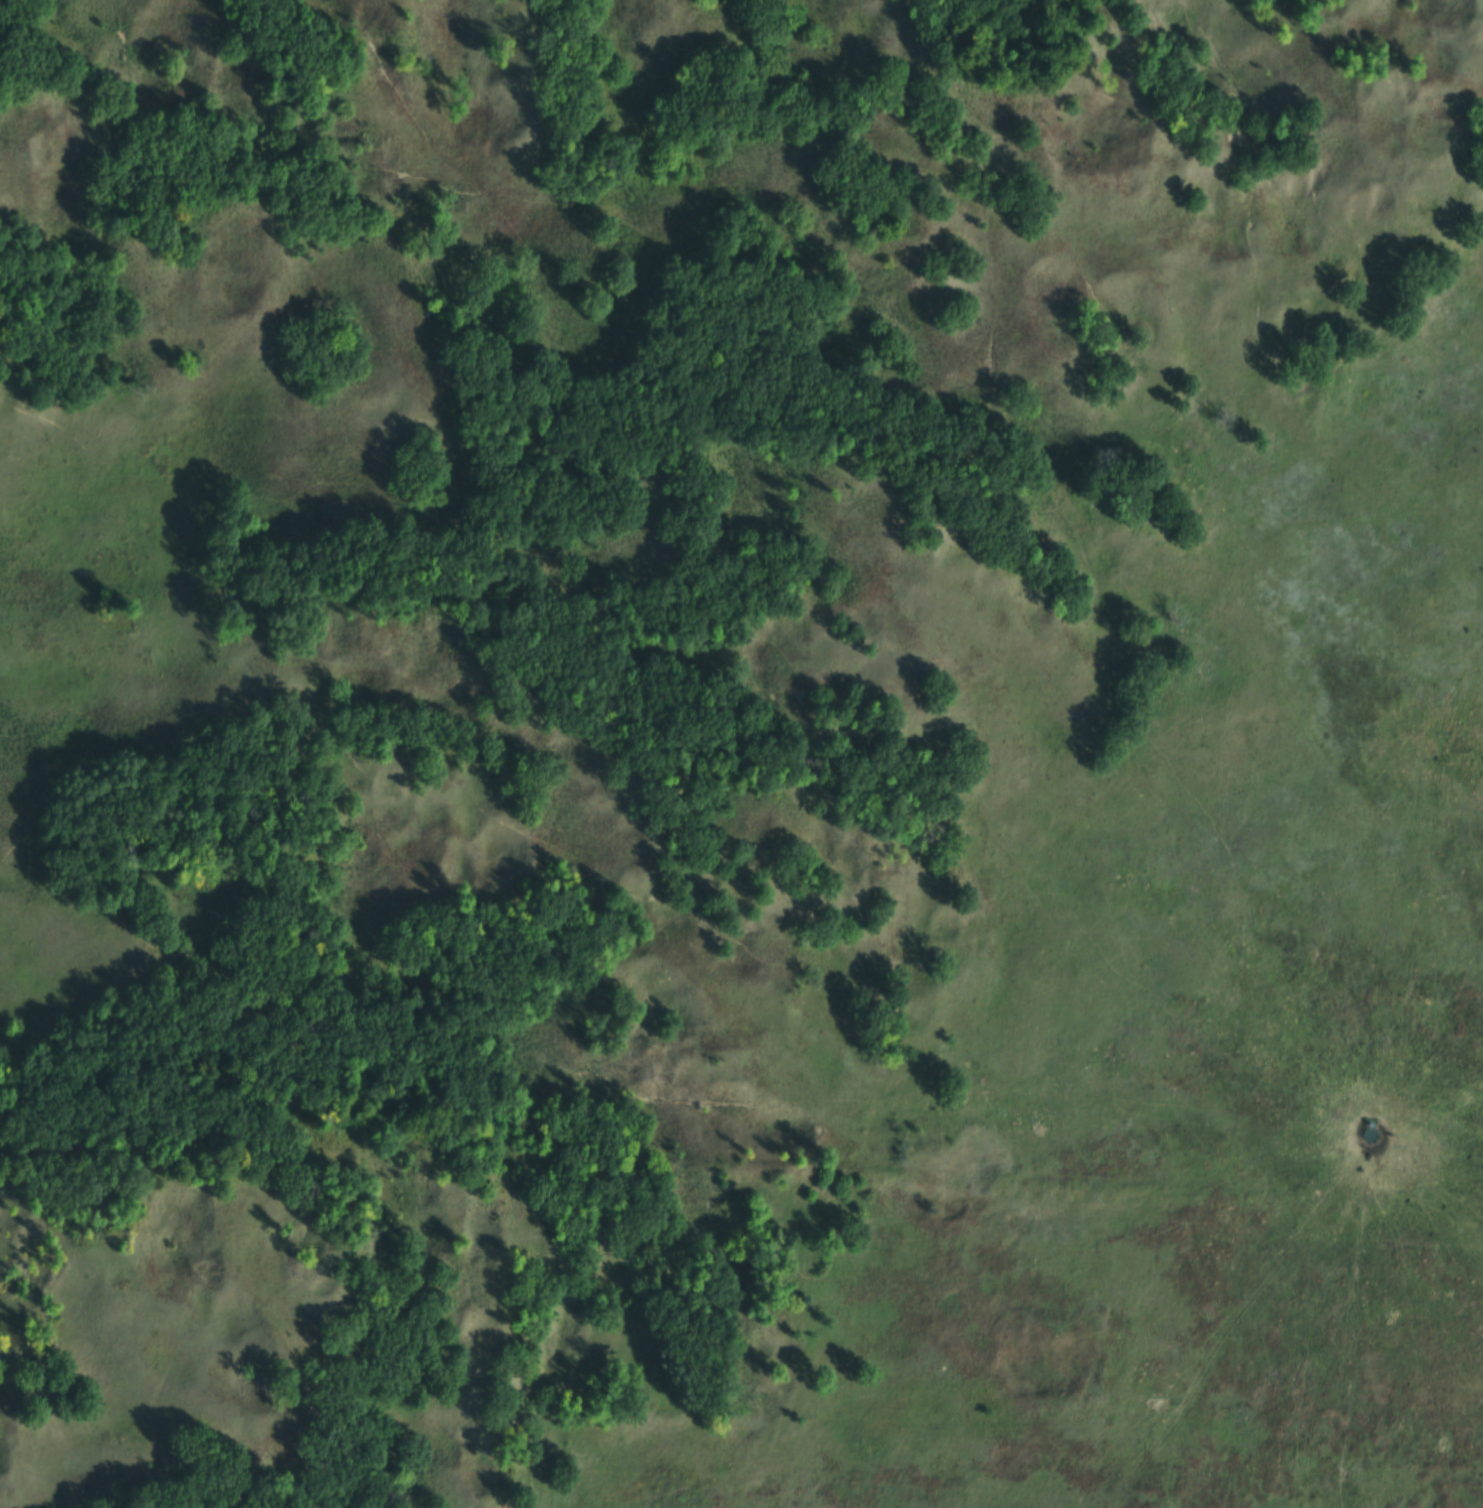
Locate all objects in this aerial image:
road: (1230, 1330)

